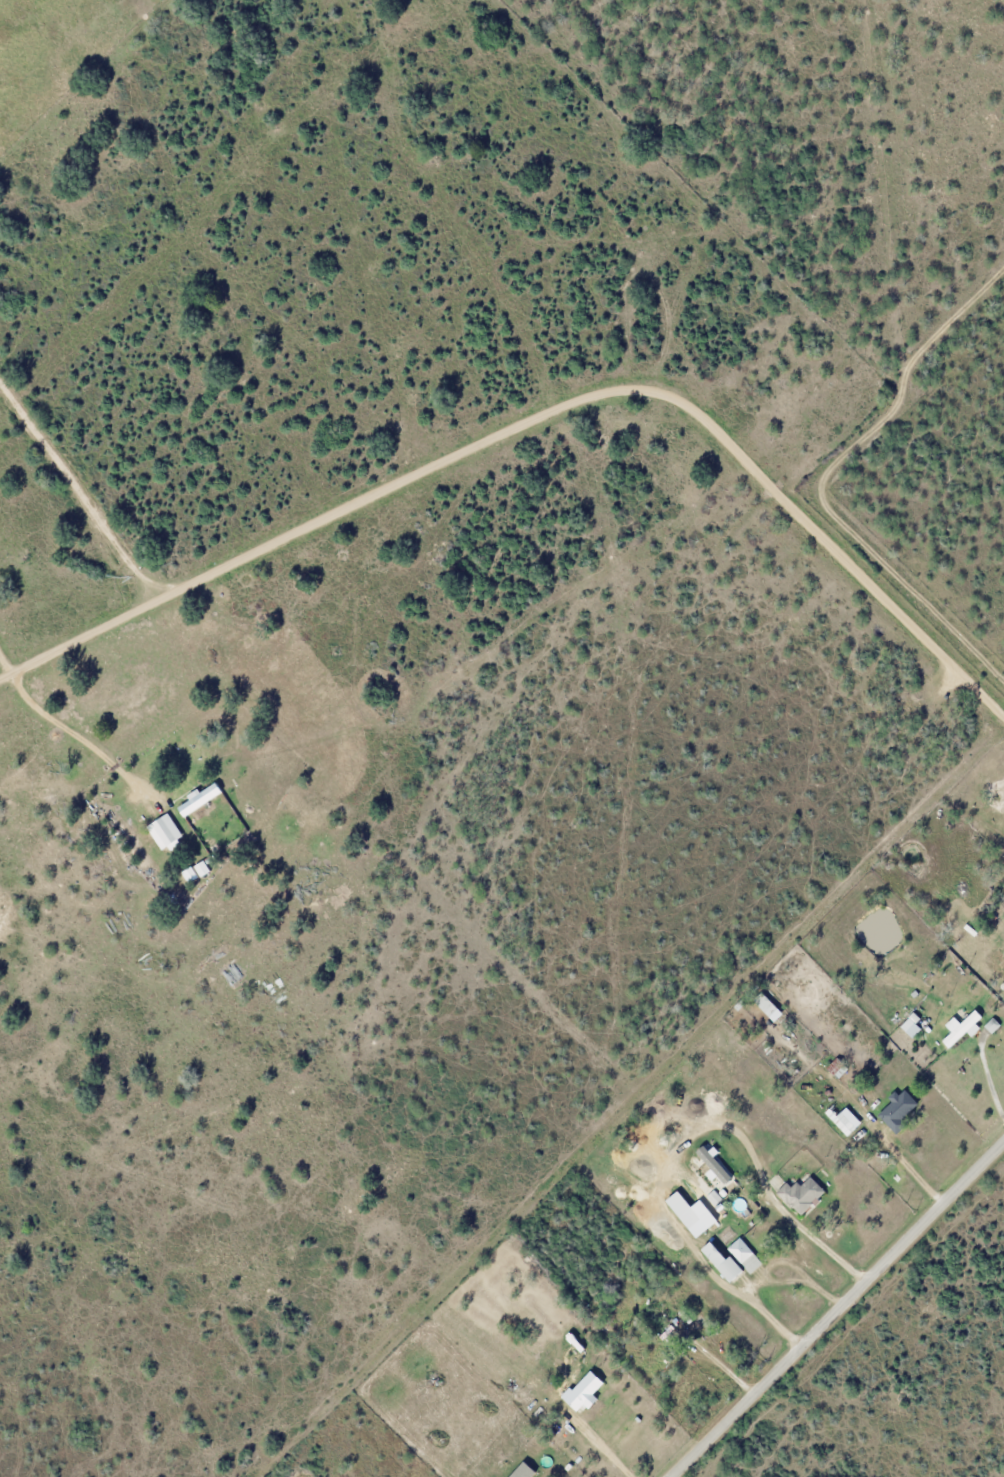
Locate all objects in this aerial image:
road: (536, 417)
building: (166, 829)
building: (770, 1005)
building: (910, 1024)
building: (992, 1026)
building: (960, 1028)
building: (836, 1068)
building: (895, 1111)
building: (840, 1121)
building: (799, 1195)
building: (696, 1217)
building: (744, 1255)
building: (723, 1263)
road: (836, 1309)
building: (585, 1392)

